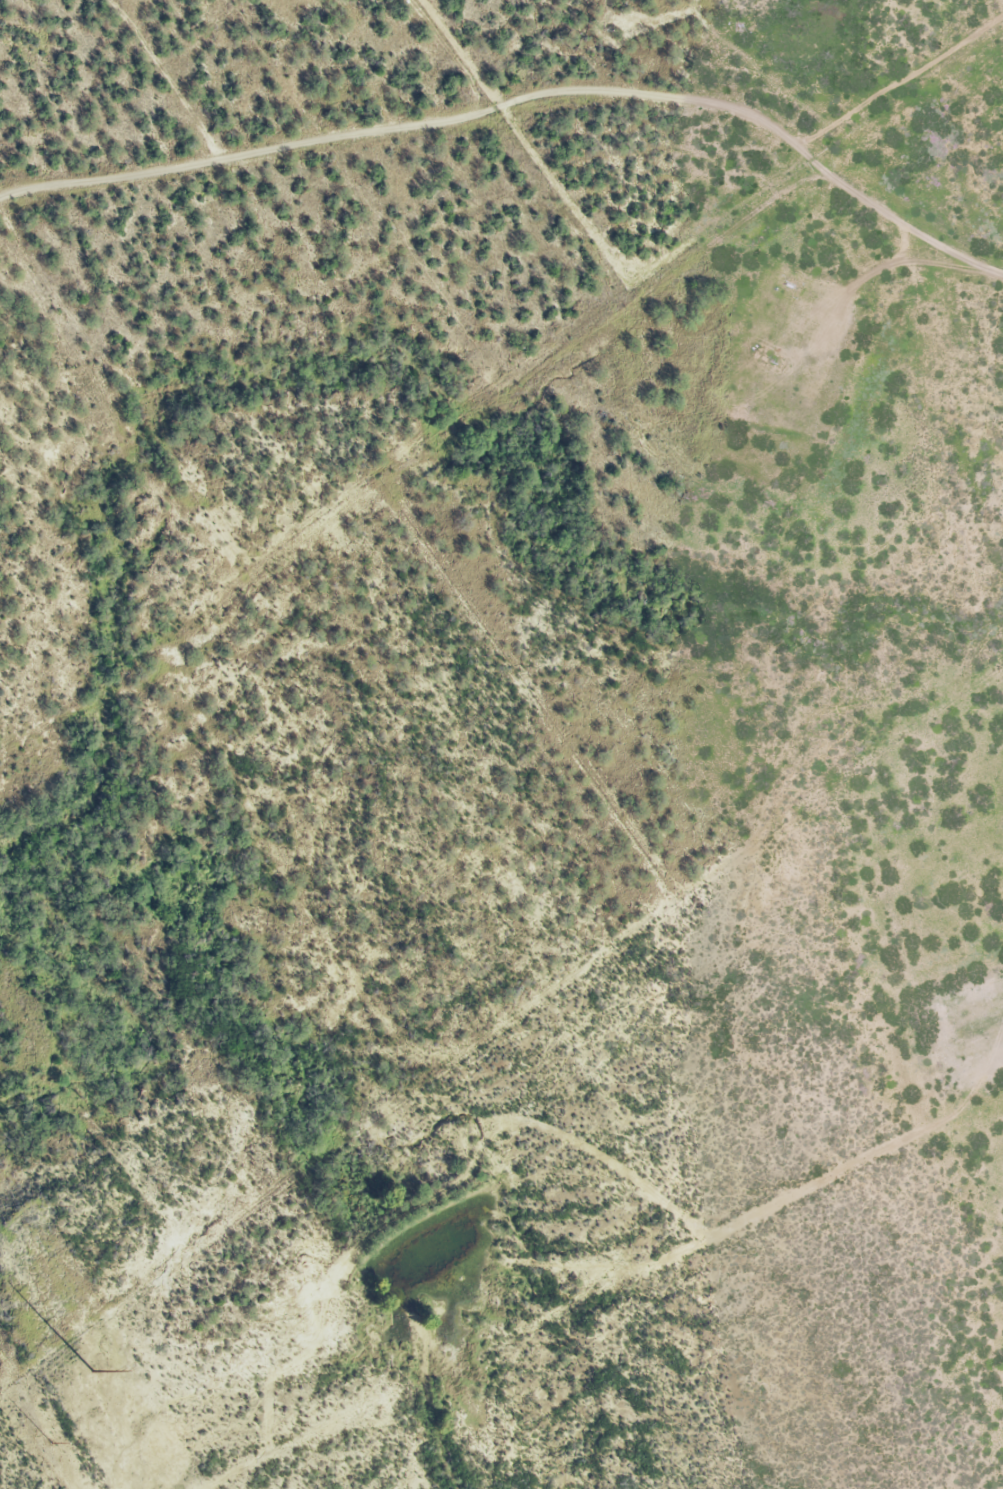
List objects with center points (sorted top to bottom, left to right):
road: (508, 99)
power tower: (89, 1371)
power tower: (49, 1443)

